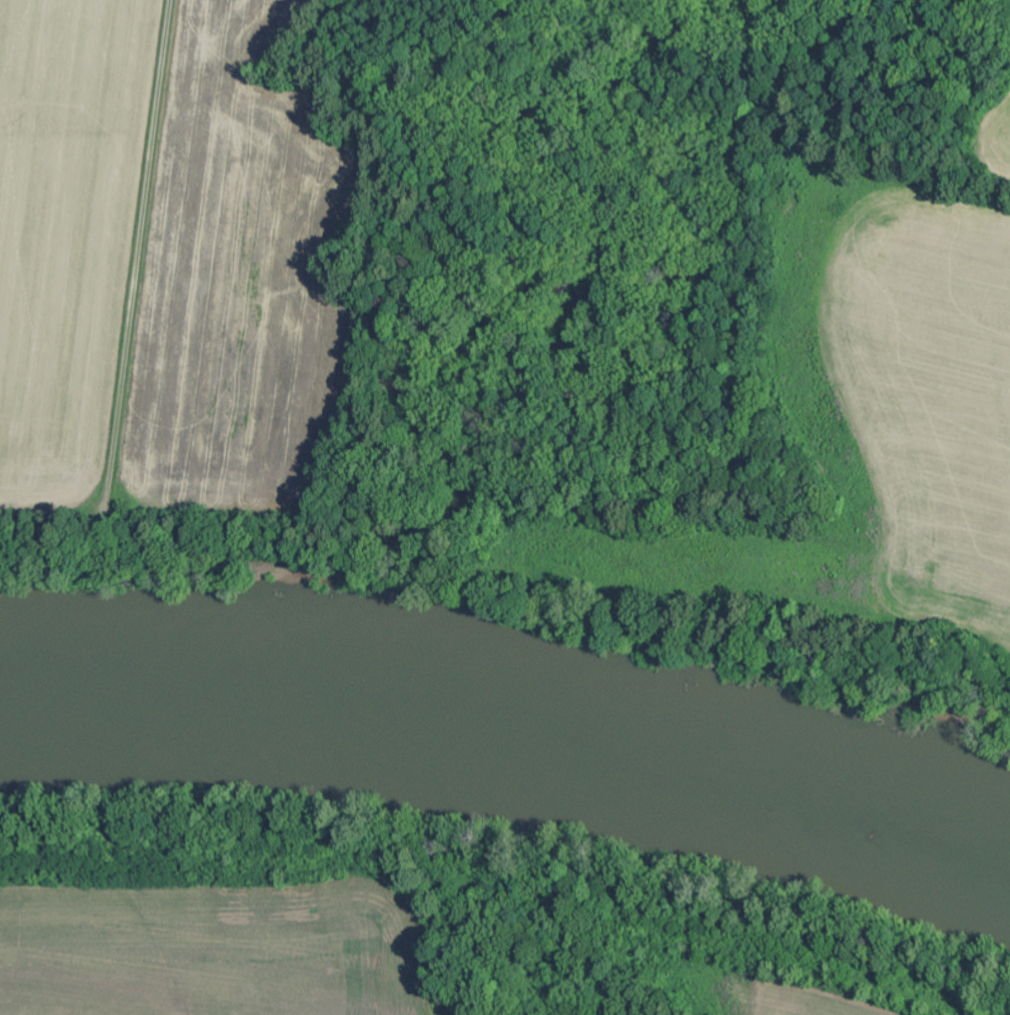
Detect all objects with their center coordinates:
road: (140, 253)
river: (514, 721)

